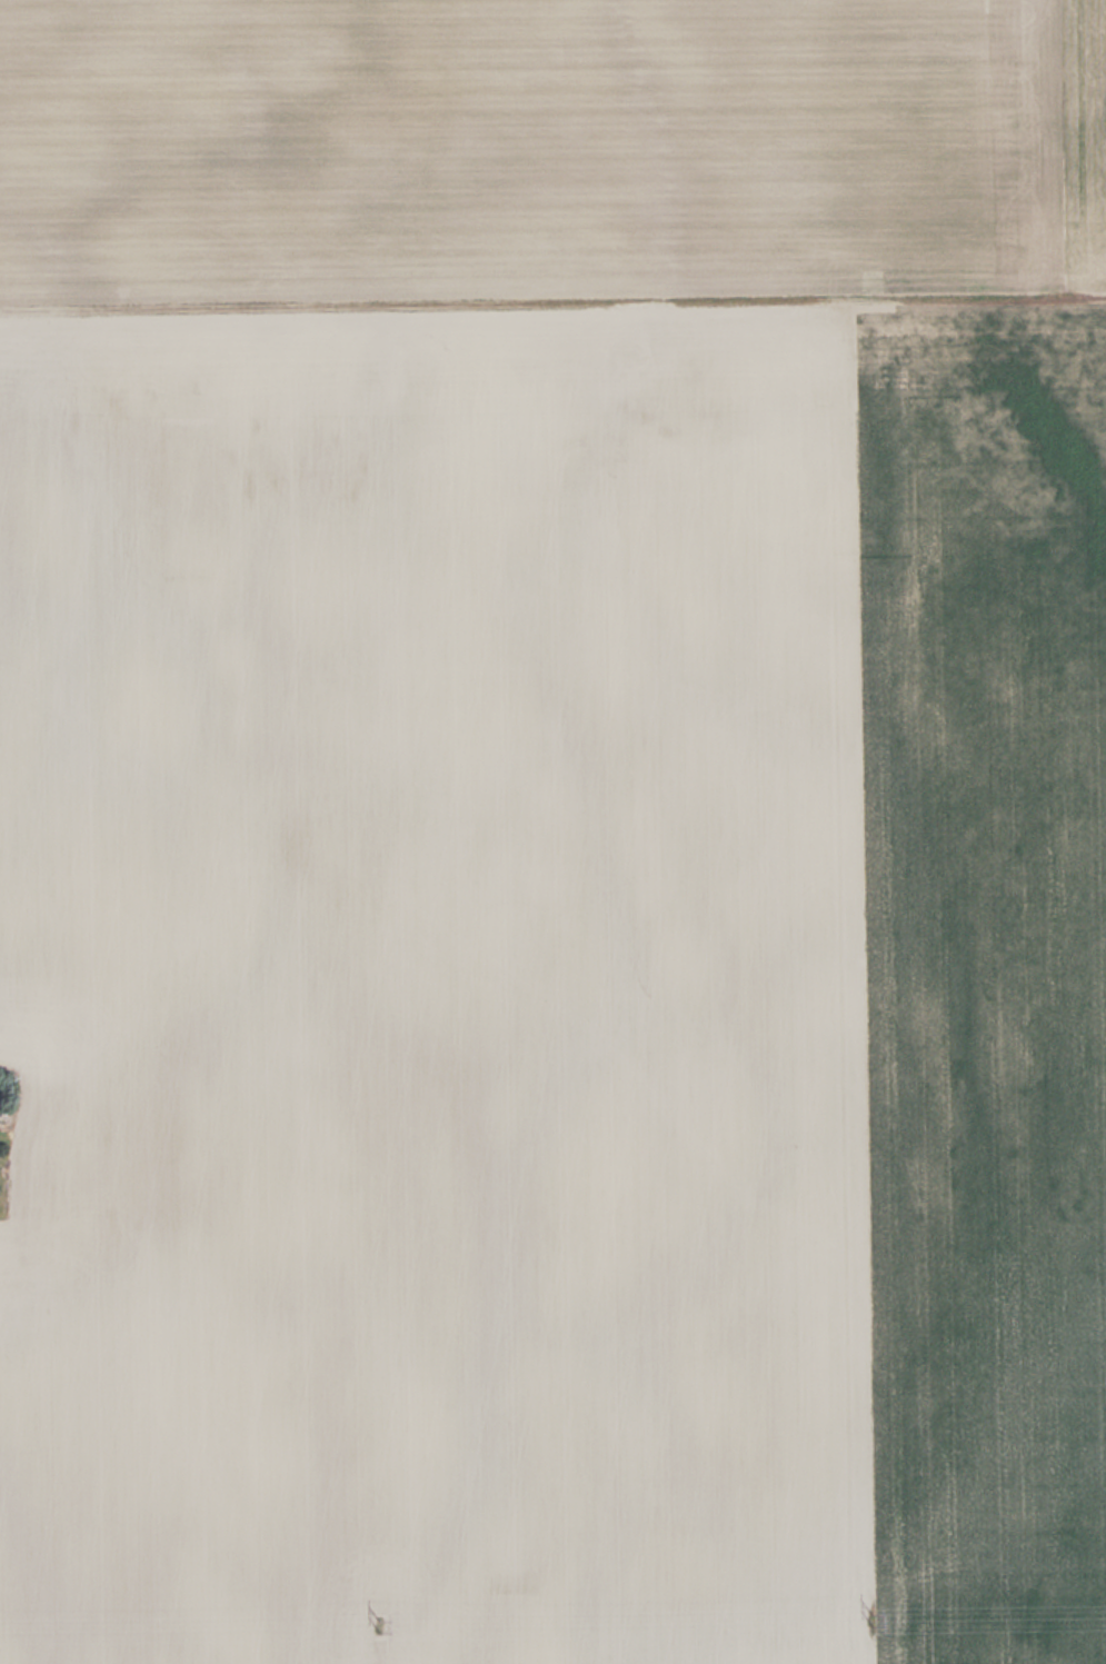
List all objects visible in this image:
power tower: (883, 1623)
power tower: (381, 1632)

